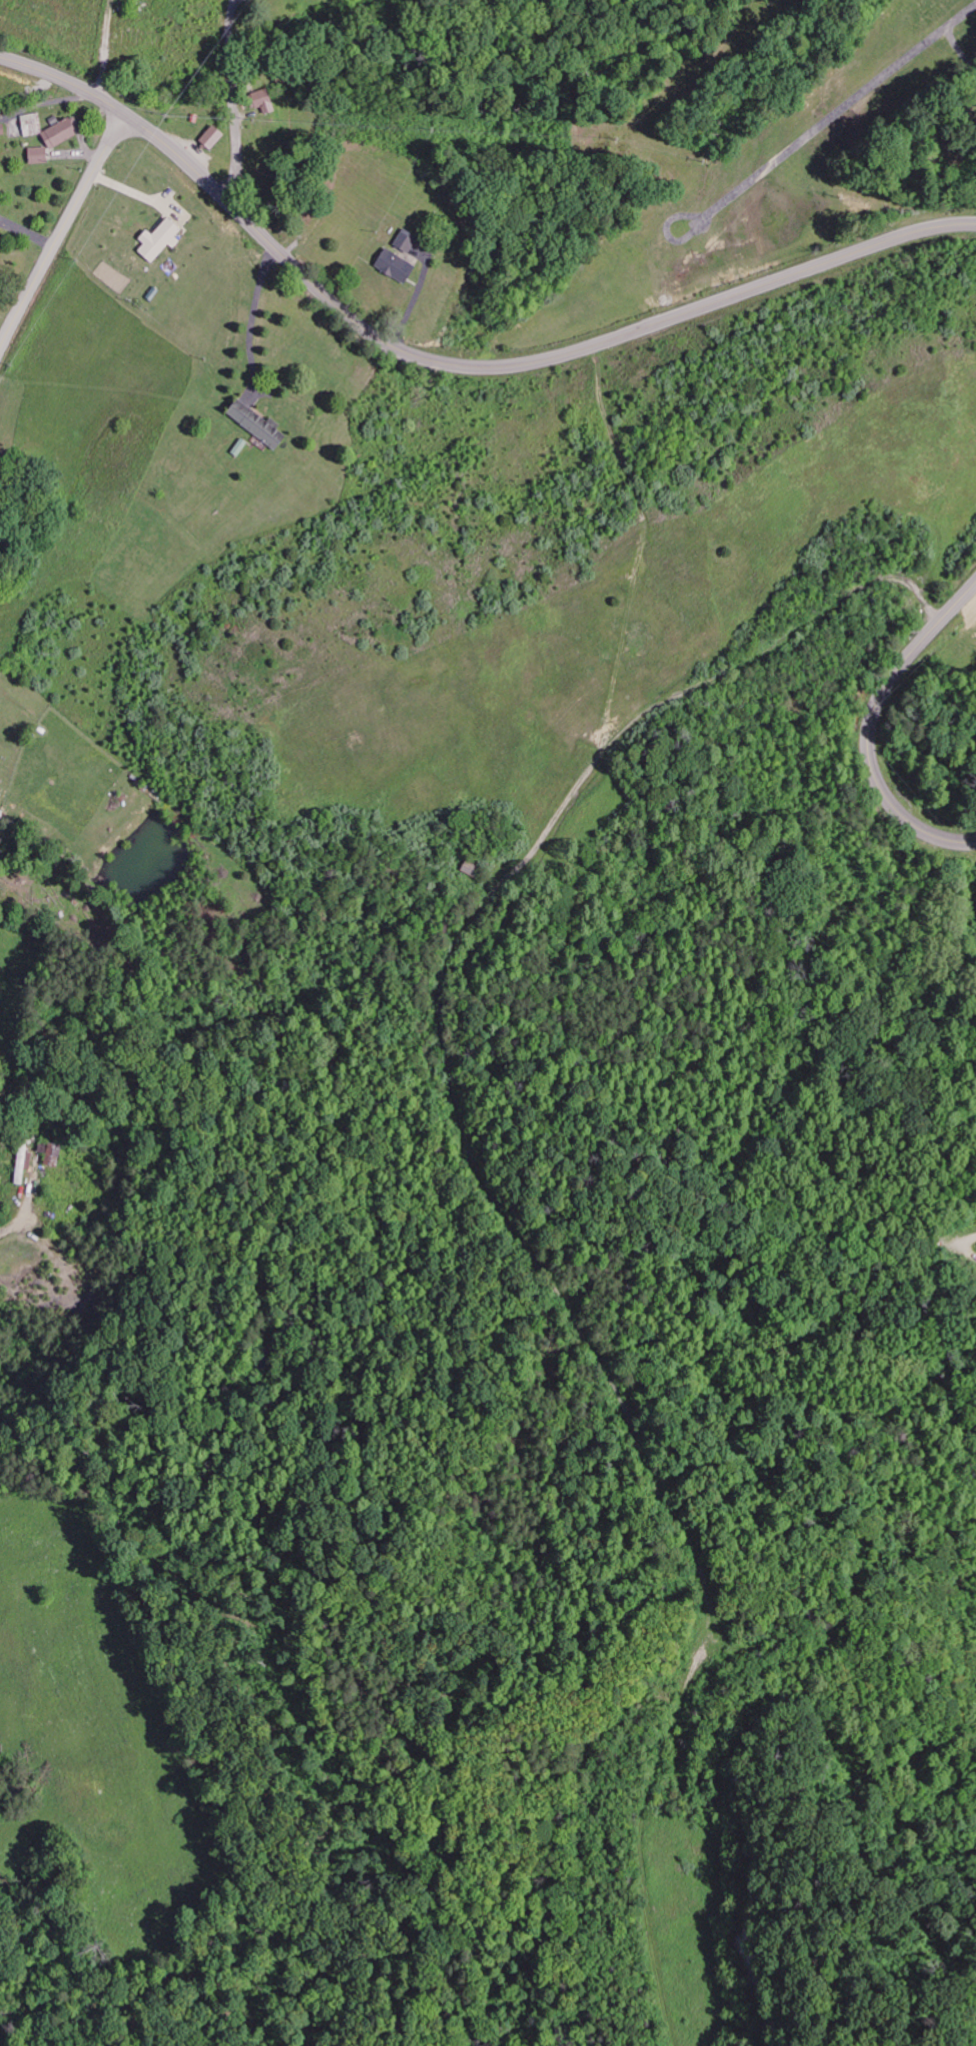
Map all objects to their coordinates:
road: (232, 101)
building: (268, 102)
road: (125, 114)
airport runway: (839, 119)
building: (33, 125)
building: (4, 130)
building: (64, 134)
building: (217, 138)
building: (41, 156)
airport: (754, 187)
road: (61, 233)
building: (163, 240)
building: (409, 241)
building: (398, 267)
road: (239, 309)
building: (1, 311)
road: (584, 349)
road: (324, 353)
building: (262, 426)
road: (872, 726)
building: (55, 1155)
road: (494, 1197)
road: (969, 1239)

